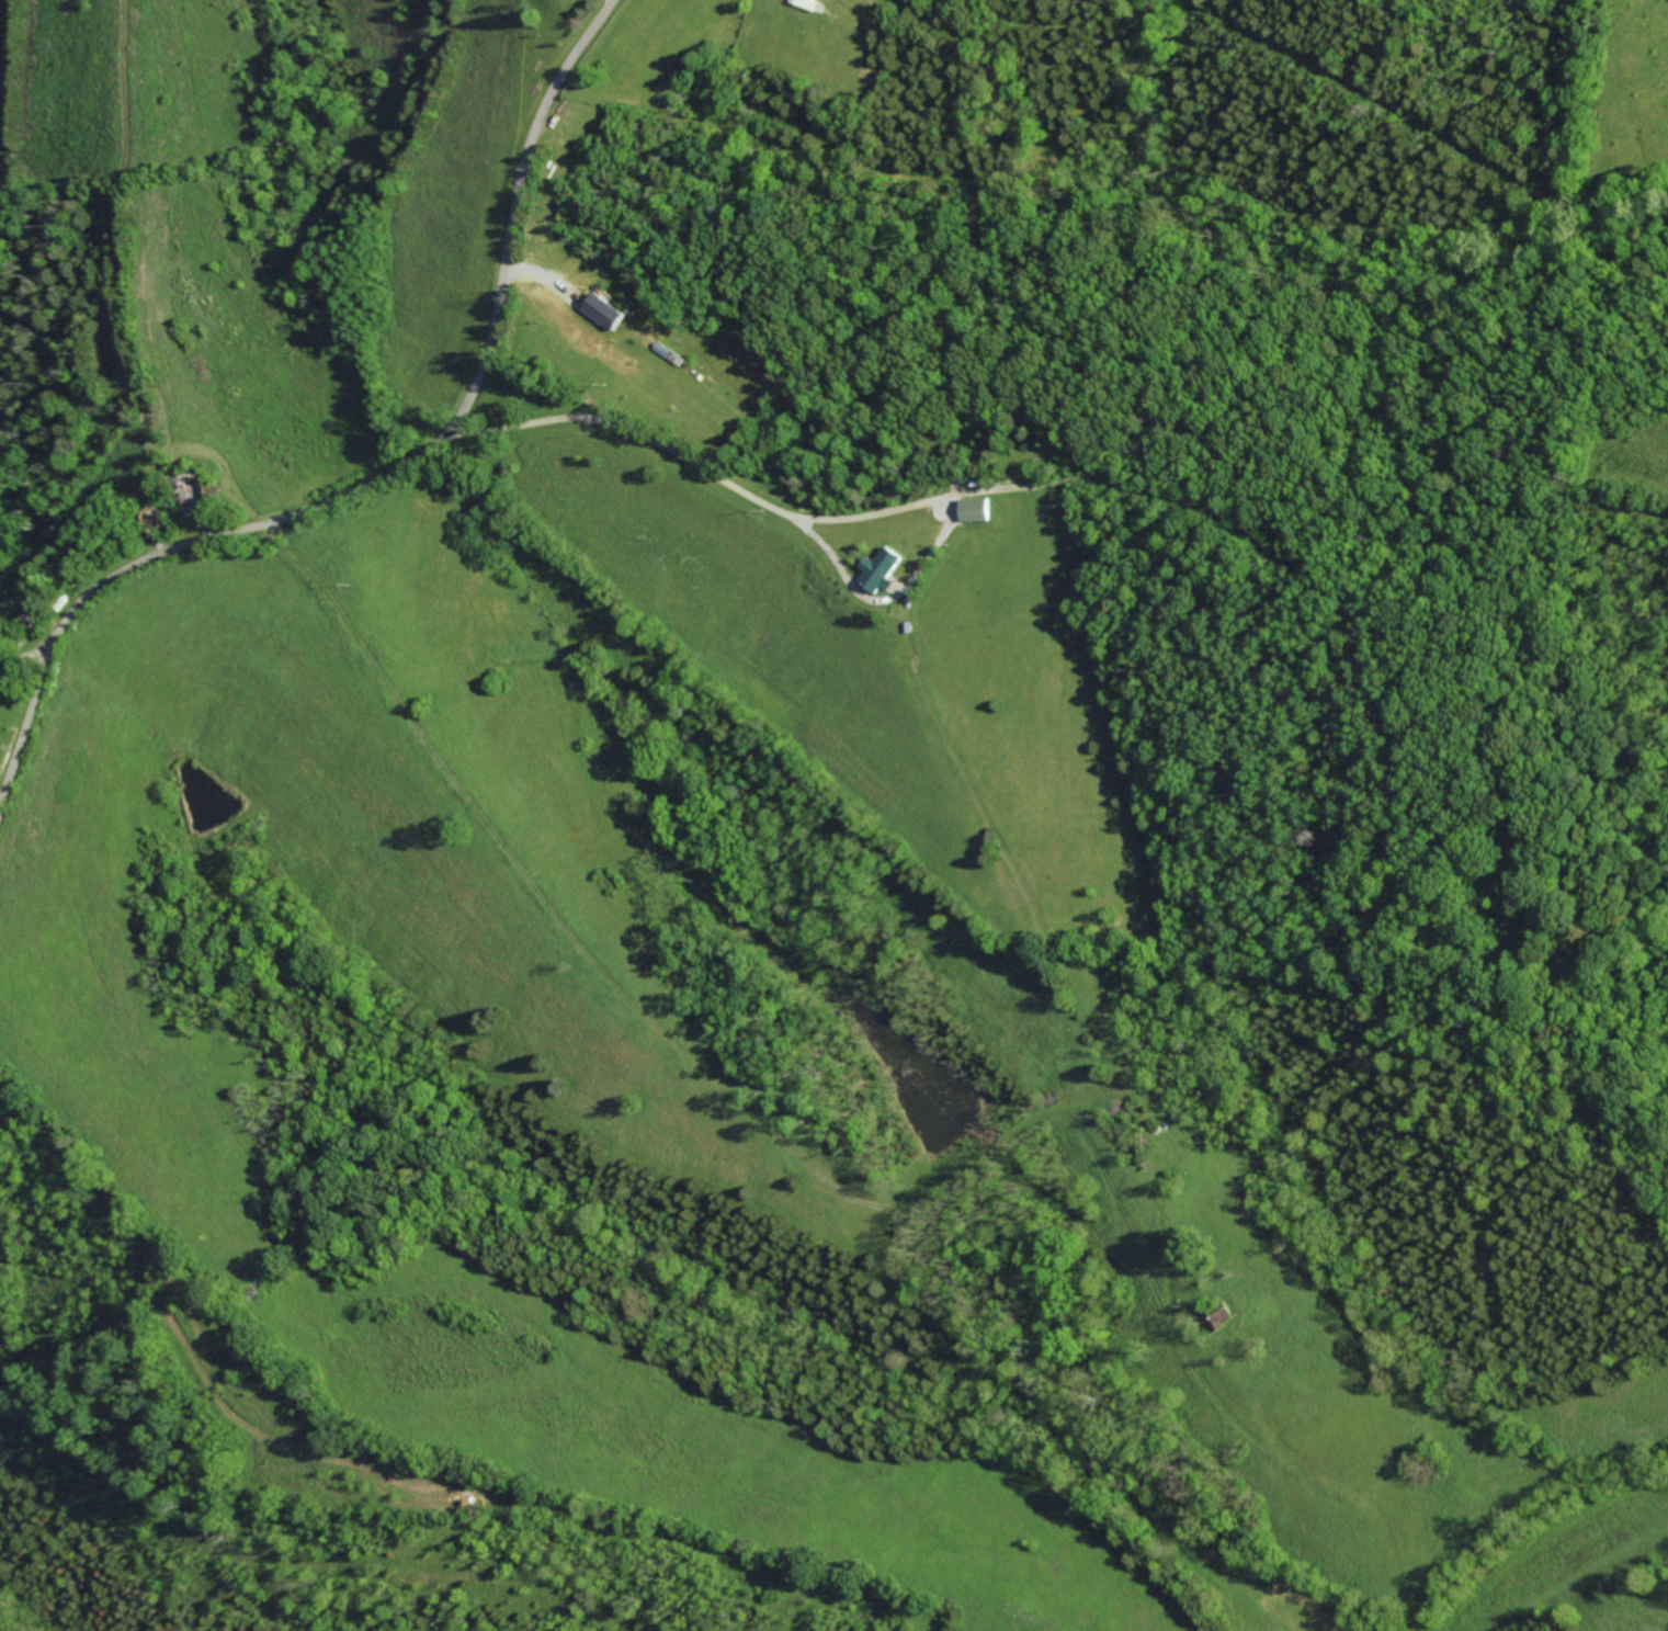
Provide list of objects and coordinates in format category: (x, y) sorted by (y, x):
road: (383, 479)
road: (733, 483)
building: (978, 510)
building: (884, 569)

